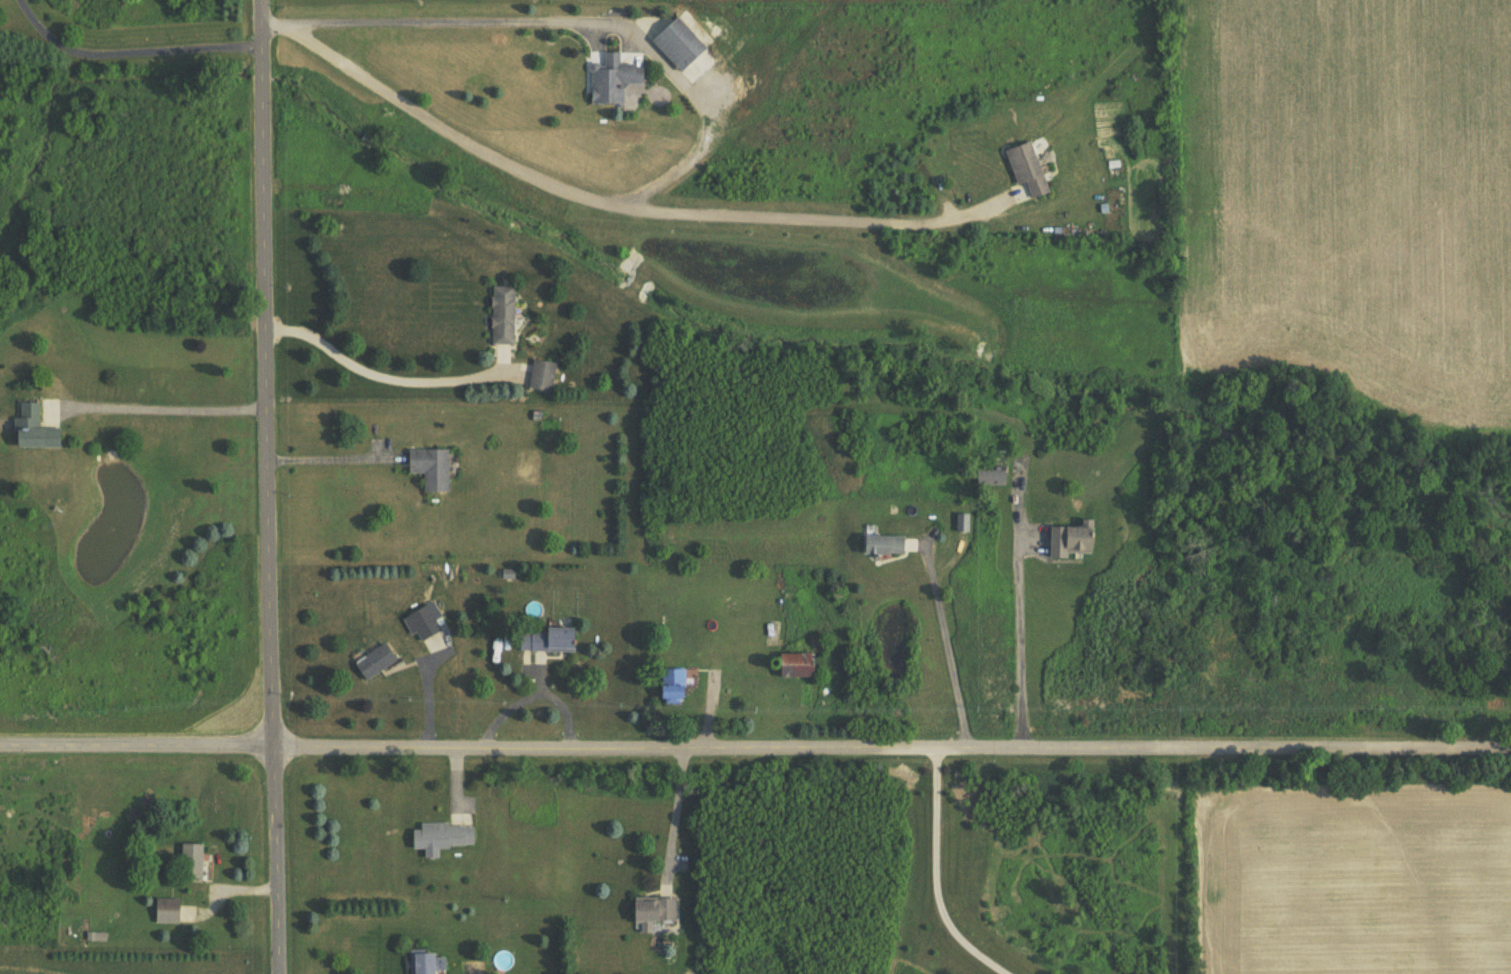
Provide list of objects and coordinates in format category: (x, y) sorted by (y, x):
road: (453, 14)
building: (682, 44)
road: (130, 50)
building: (617, 79)
road: (443, 125)
building: (1024, 167)
road: (821, 222)
building: (505, 314)
road: (377, 374)
building: (545, 375)
road: (167, 409)
building: (39, 429)
road: (332, 452)
building: (433, 467)
building: (988, 476)
road: (270, 486)
building: (959, 523)
building: (1067, 540)
building: (880, 544)
building: (422, 624)
road: (1021, 636)
building: (547, 641)
road: (949, 646)
building: (376, 661)
building: (792, 664)
building: (664, 686)
road: (755, 748)
road: (673, 810)
building: (439, 837)
building: (194, 862)
road: (936, 875)
building: (169, 911)
building: (647, 911)

